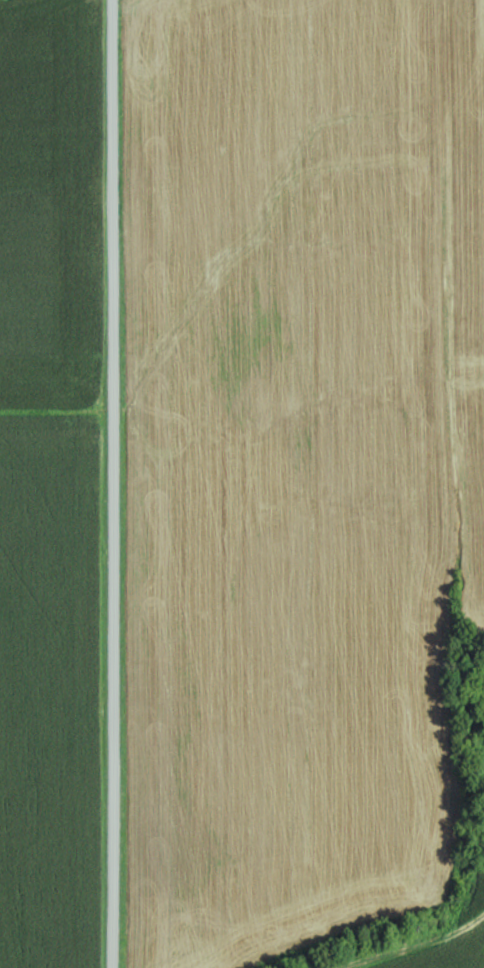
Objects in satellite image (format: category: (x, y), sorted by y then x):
road: (119, 484)
road: (429, 949)

